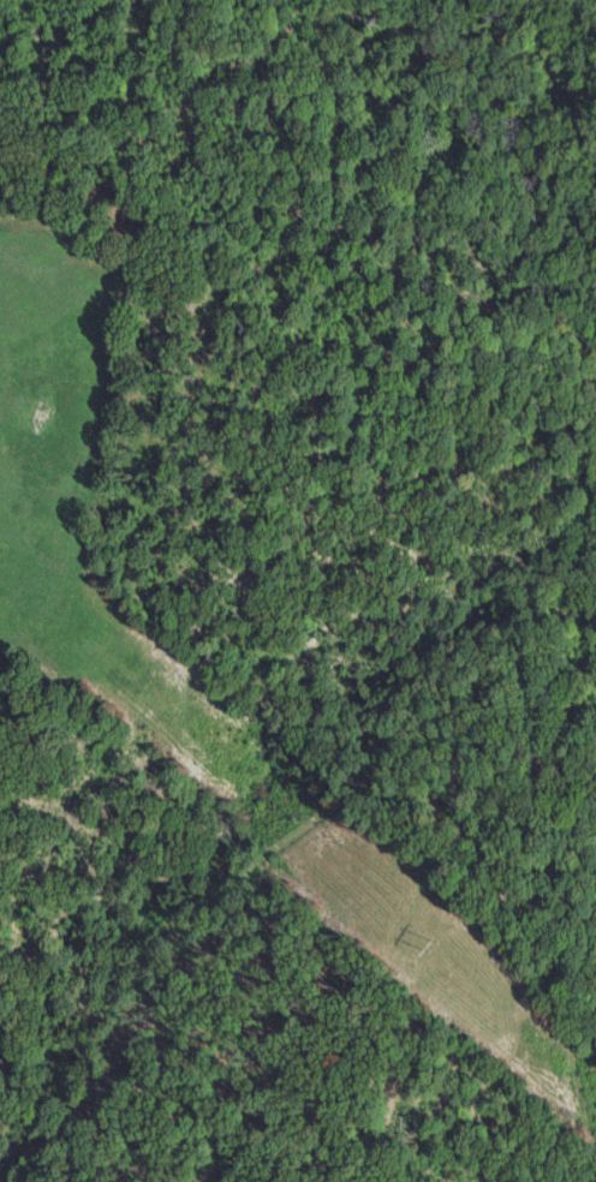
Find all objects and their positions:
power tower: (437, 950)

